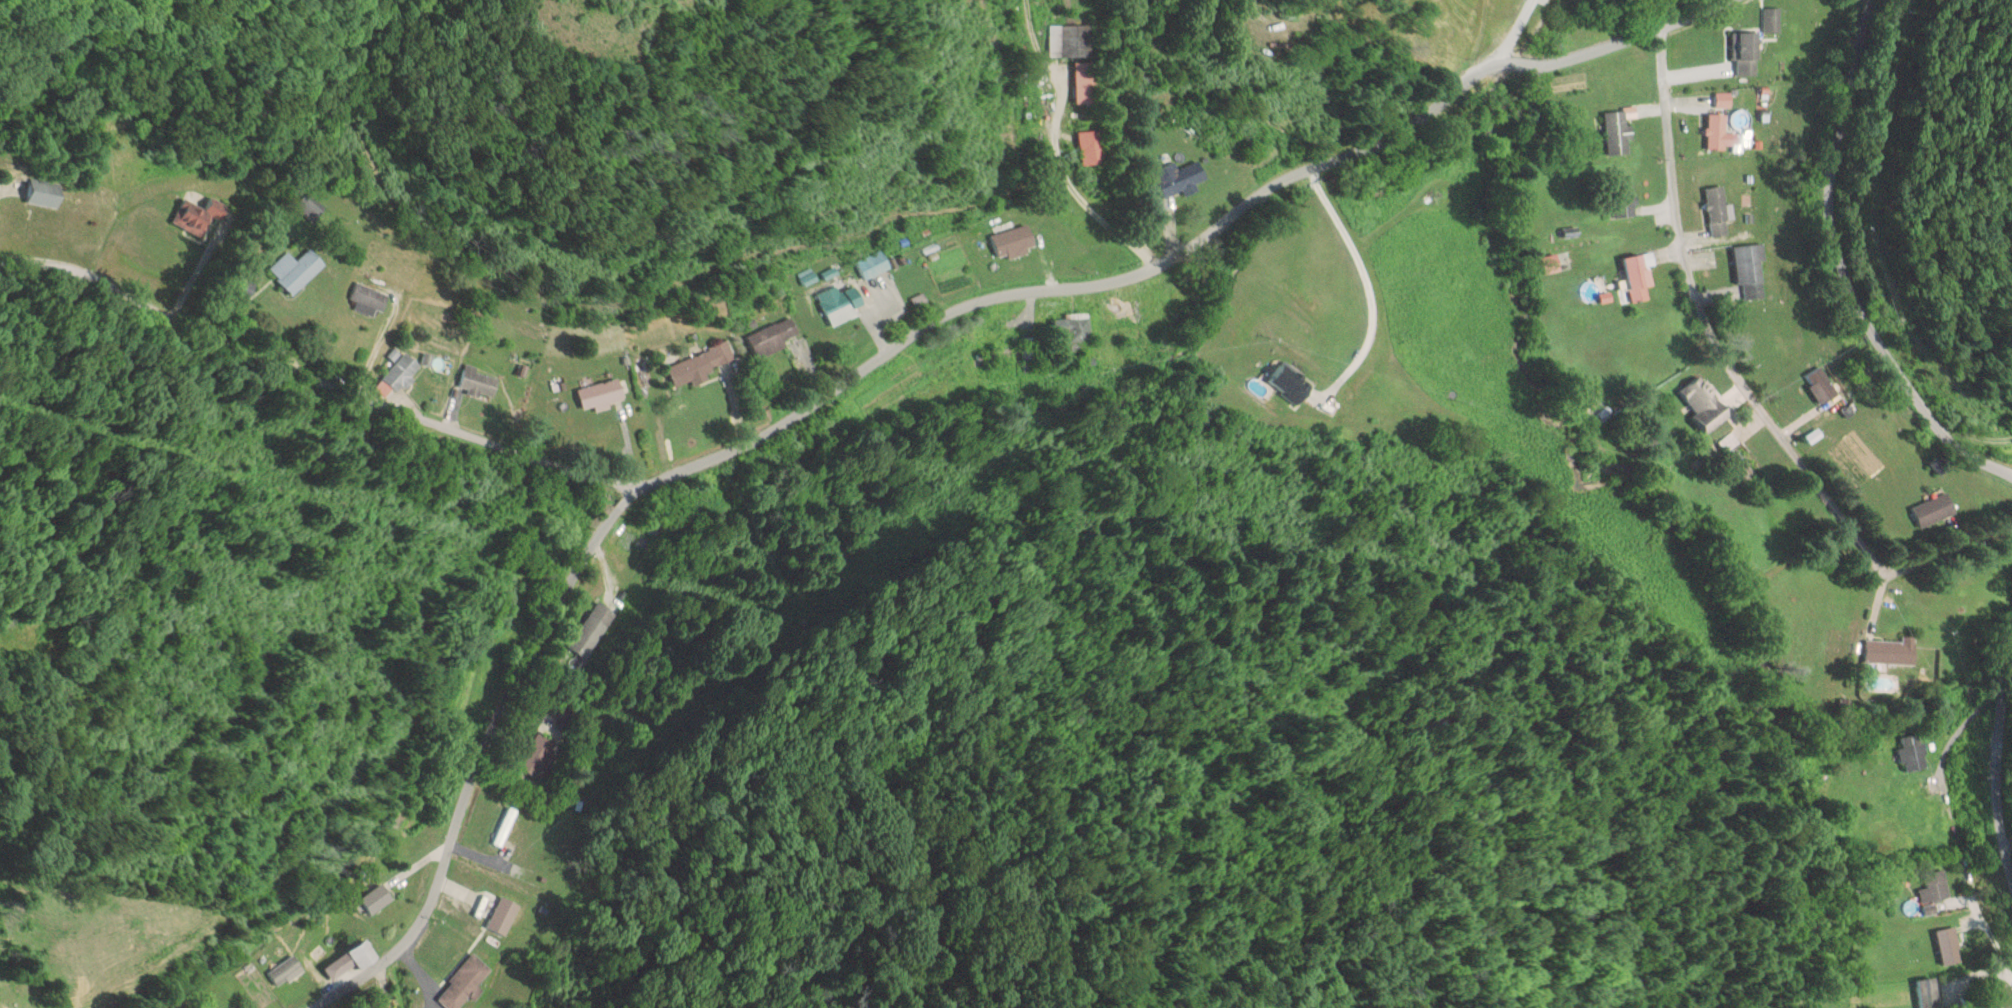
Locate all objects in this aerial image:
building: (1772, 21)
building: (1068, 41)
building: (1746, 54)
building: (1086, 84)
building: (1723, 100)
building: (1618, 133)
building: (1720, 133)
building: (1090, 149)
building: (1179, 179)
building: (45, 194)
building: (1623, 198)
building: (310, 207)
building: (1718, 210)
building: (198, 218)
building: (1551, 263)
building: (874, 265)
building: (297, 269)
road: (1844, 269)
building: (1750, 271)
building: (1640, 275)
building: (369, 297)
building: (842, 303)
building: (1128, 313)
building: (1074, 329)
building: (773, 337)
road: (896, 345)
building: (1029, 347)
building: (699, 364)
building: (402, 372)
road: (312, 378)
building: (481, 381)
building: (1291, 382)
road: (1741, 384)
building: (1821, 385)
building: (601, 393)
building: (1704, 403)
road: (1976, 435)
building: (1745, 463)
building: (1934, 510)
building: (590, 630)
building: (1891, 652)
building: (1912, 753)
building: (538, 755)
road: (2000, 766)
building: (505, 827)
building: (1934, 886)
building: (376, 899)
building: (1949, 946)
building: (351, 960)
building: (465, 983)
building: (1928, 993)
building: (1990, 1006)

